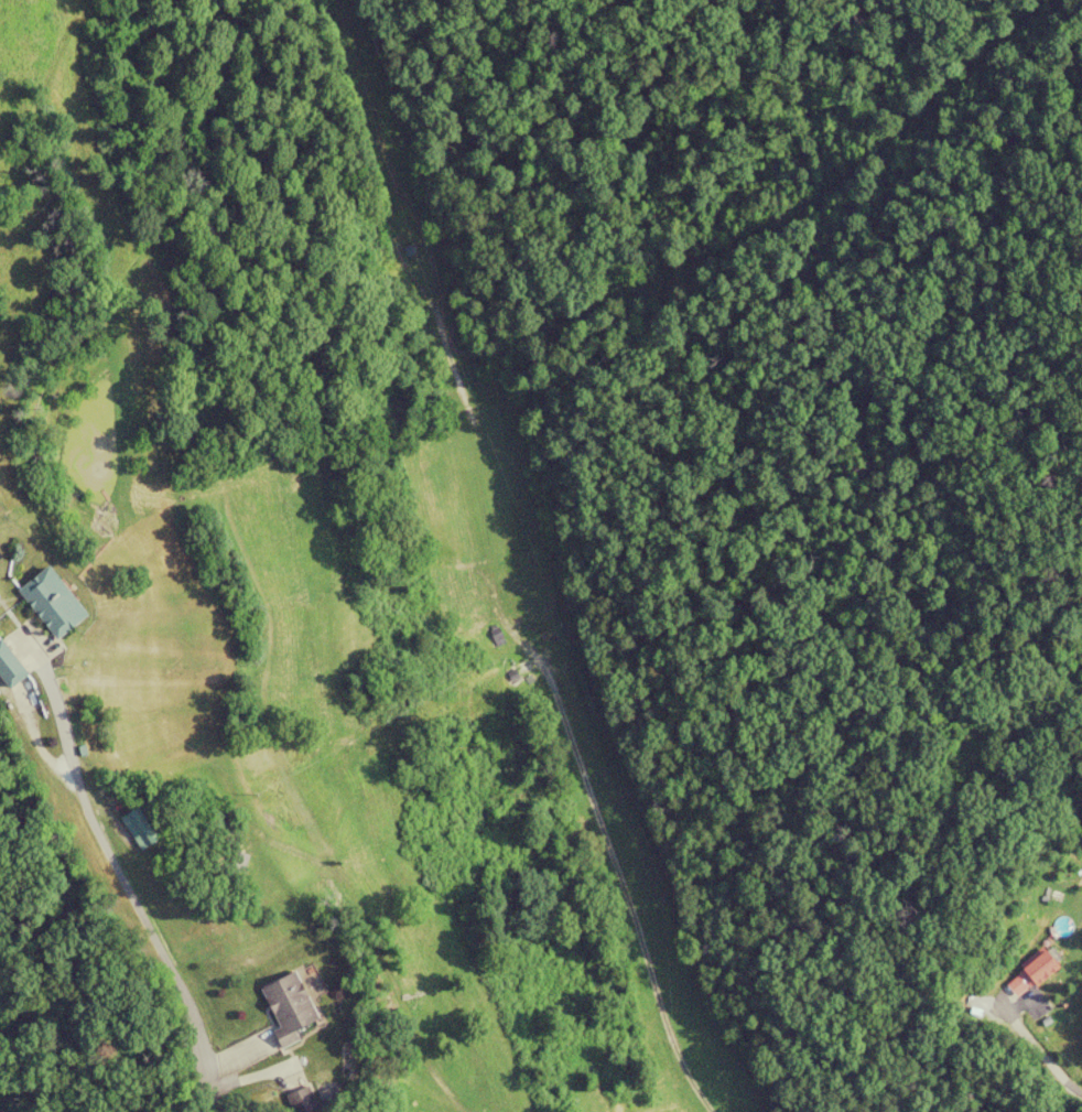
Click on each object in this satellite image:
building: (50, 602)
building: (8, 669)
building: (136, 829)
building: (1037, 969)
building: (285, 1007)
road: (1038, 1055)
building: (311, 1101)

